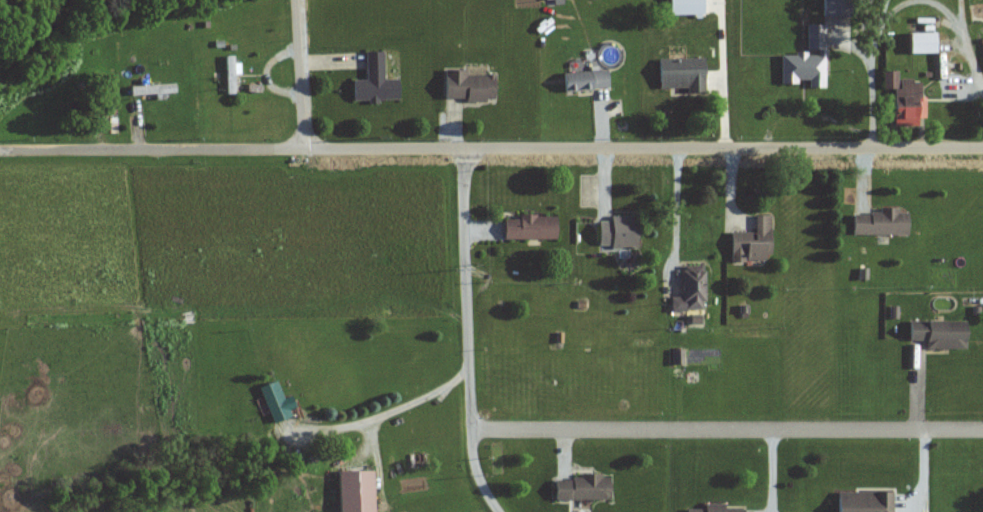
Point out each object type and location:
building: (554, 2)
building: (682, 8)
building: (826, 8)
road: (963, 15)
road: (964, 36)
building: (918, 44)
building: (804, 61)
road: (872, 68)
road: (301, 74)
building: (231, 75)
building: (680, 75)
building: (582, 82)
building: (373, 83)
building: (466, 87)
building: (152, 90)
building: (902, 101)
road: (491, 148)
road: (676, 211)
building: (878, 224)
building: (527, 229)
building: (614, 234)
building: (750, 243)
building: (687, 291)
road: (467, 333)
building: (936, 335)
building: (271, 402)
road: (388, 411)
road: (727, 428)
building: (579, 489)
building: (352, 491)
building: (862, 502)
building: (712, 509)

